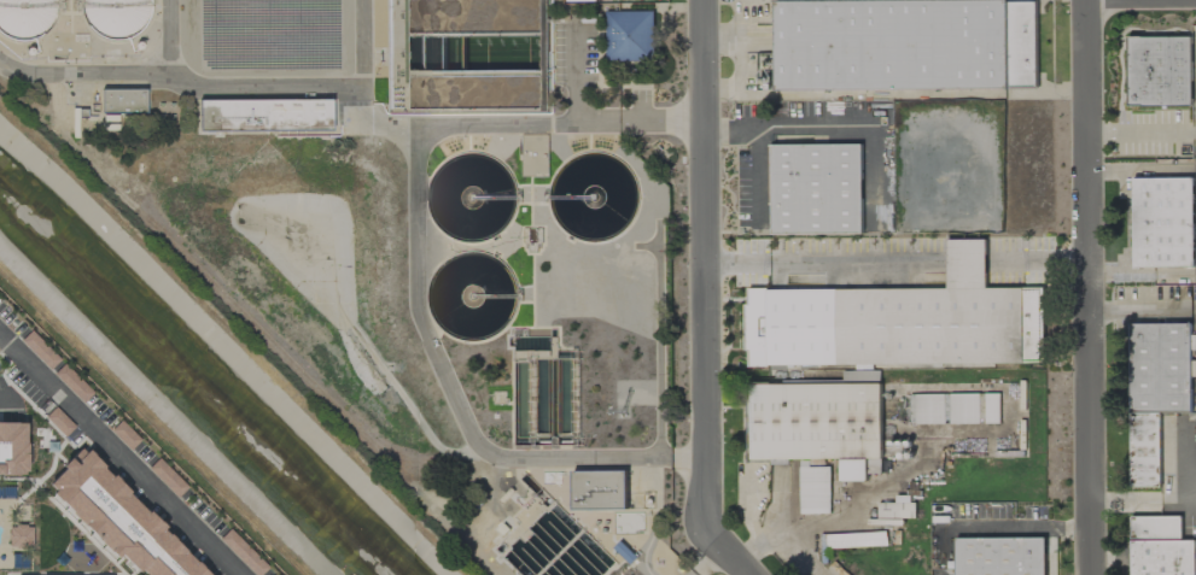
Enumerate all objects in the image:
building: (25, 18)
building: (116, 18)
building: (428, 35)
building: (630, 36)
road: (723, 37)
building: (905, 45)
road: (741, 69)
building: (1160, 71)
road: (576, 76)
road: (912, 95)
building: (123, 101)
building: (263, 116)
road: (733, 128)
road: (809, 128)
road: (1138, 133)
road: (1194, 133)
road: (1140, 171)
building: (816, 189)
building: (1162, 222)
wastewater plant: (410, 233)
road: (1037, 258)
road: (965, 260)
road: (824, 262)
road: (704, 263)
road: (415, 264)
road: (1140, 275)
road: (1087, 287)
building: (899, 321)
building: (1156, 391)
road: (7, 403)
building: (955, 409)
building: (816, 424)
building: (12, 447)
road: (117, 454)
building: (813, 488)
building: (600, 489)
building: (897, 507)
building: (118, 517)
road: (1016, 526)
road: (783, 533)
building: (19, 536)
building: (856, 540)
building: (1160, 546)
road: (723, 550)
building: (1000, 556)

